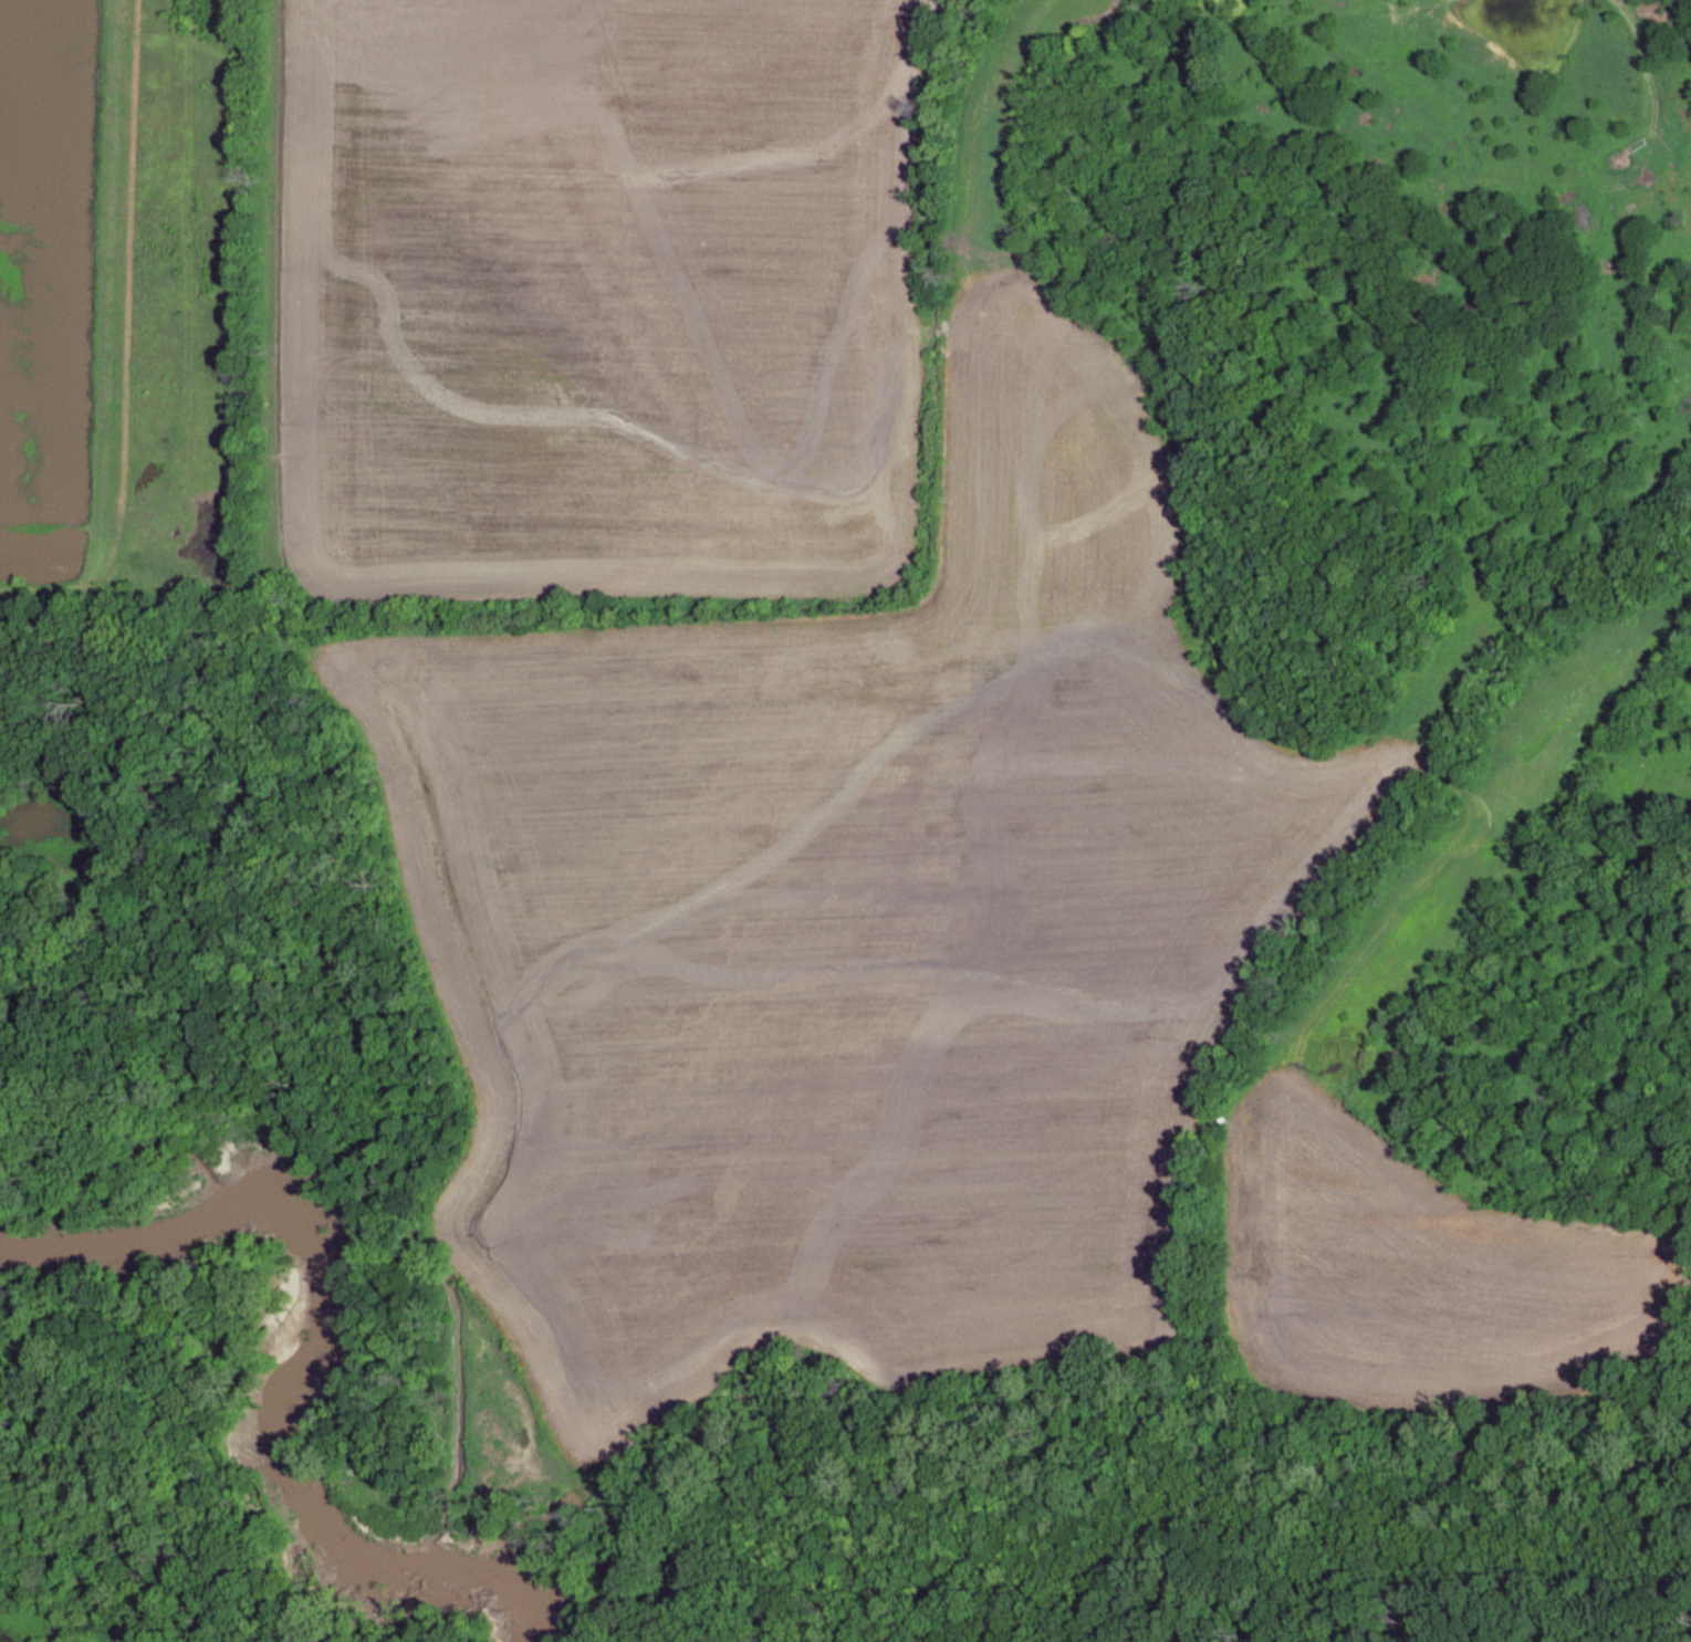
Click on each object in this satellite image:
road: (1630, 12)

